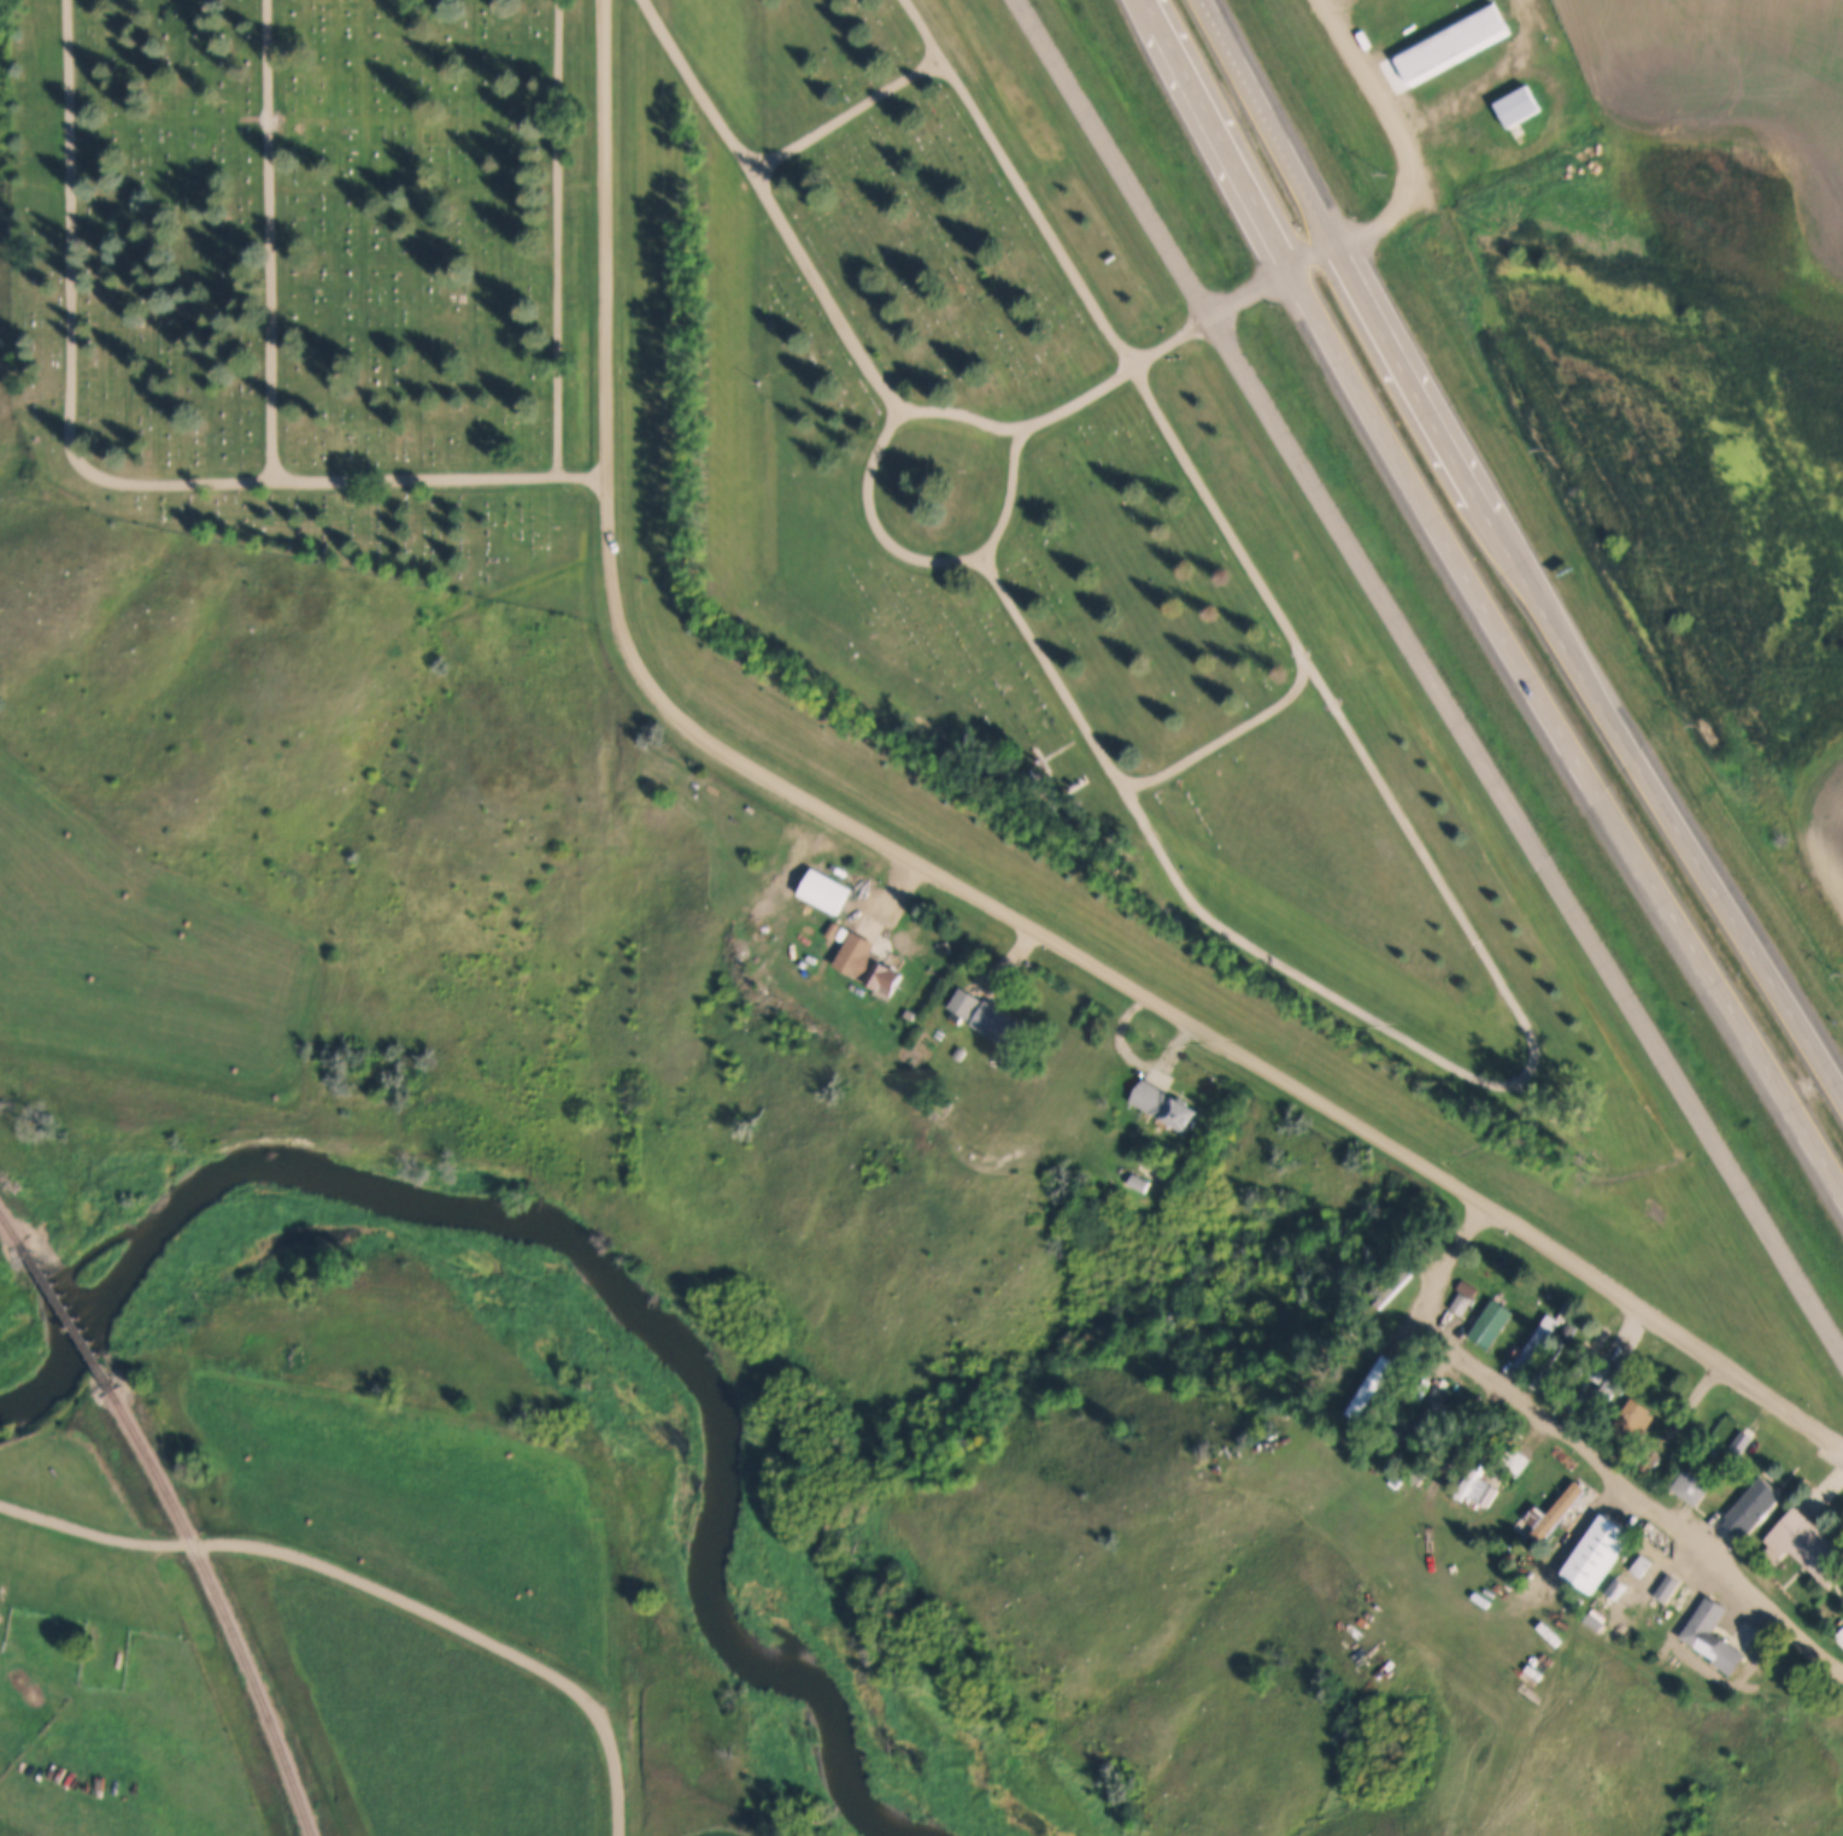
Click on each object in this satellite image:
building: (1451, 41)
road: (1487, 77)
road: (761, 87)
building: (1518, 105)
road: (851, 115)
road: (1399, 135)
road: (417, 189)
road: (559, 237)
road: (272, 239)
road: (608, 239)
road: (1314, 257)
road: (887, 389)
park: (777, 446)
road: (111, 480)
road: (1513, 553)
road: (928, 558)
road: (1483, 597)
road: (1432, 673)
road: (1228, 735)
road: (1409, 825)
building: (824, 890)
road: (782, 910)
building: (793, 921)
building: (833, 928)
building: (808, 952)
building: (868, 963)
road: (1157, 1001)
building: (963, 1002)
building: (1000, 1025)
building: (959, 1052)
building: (1164, 1104)
building: (1138, 1183)
railway: (11, 1226)
river: (586, 1268)
building: (1460, 1303)
railway: (68, 1315)
building: (1490, 1322)
building: (1562, 1337)
building: (1534, 1343)
building: (1538, 1375)
building: (1370, 1385)
building: (1420, 1386)
building: (1549, 1389)
building: (1604, 1391)
building: (1419, 1420)
building: (1631, 1420)
building: (1743, 1443)
road: (1587, 1449)
building: (1649, 1455)
building: (1297, 1467)
building: (1691, 1486)
building: (1479, 1492)
building: (1754, 1506)
building: (1550, 1514)
road: (53, 1519)
building: (1618, 1537)
building: (1806, 1545)
building: (1563, 1571)
road: (372, 1582)
building: (1626, 1583)
building: (1667, 1586)
railway: (225, 1606)
building: (1593, 1621)
building: (1712, 1636)
building: (1839, 1637)
road: (617, 1777)

